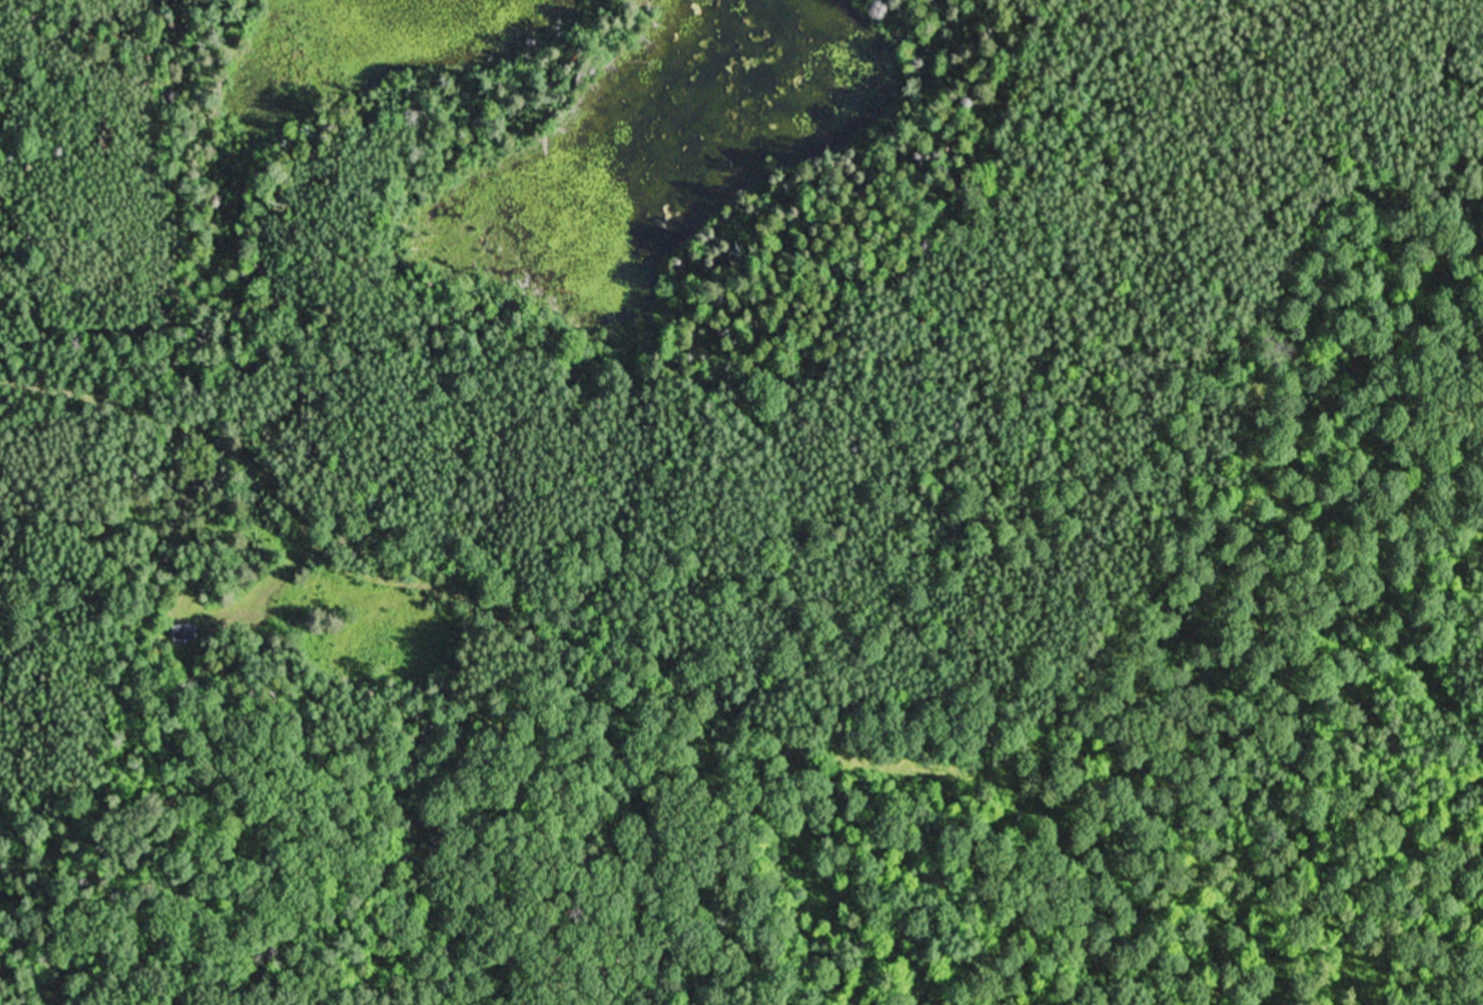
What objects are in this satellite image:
road: (187, 428)

